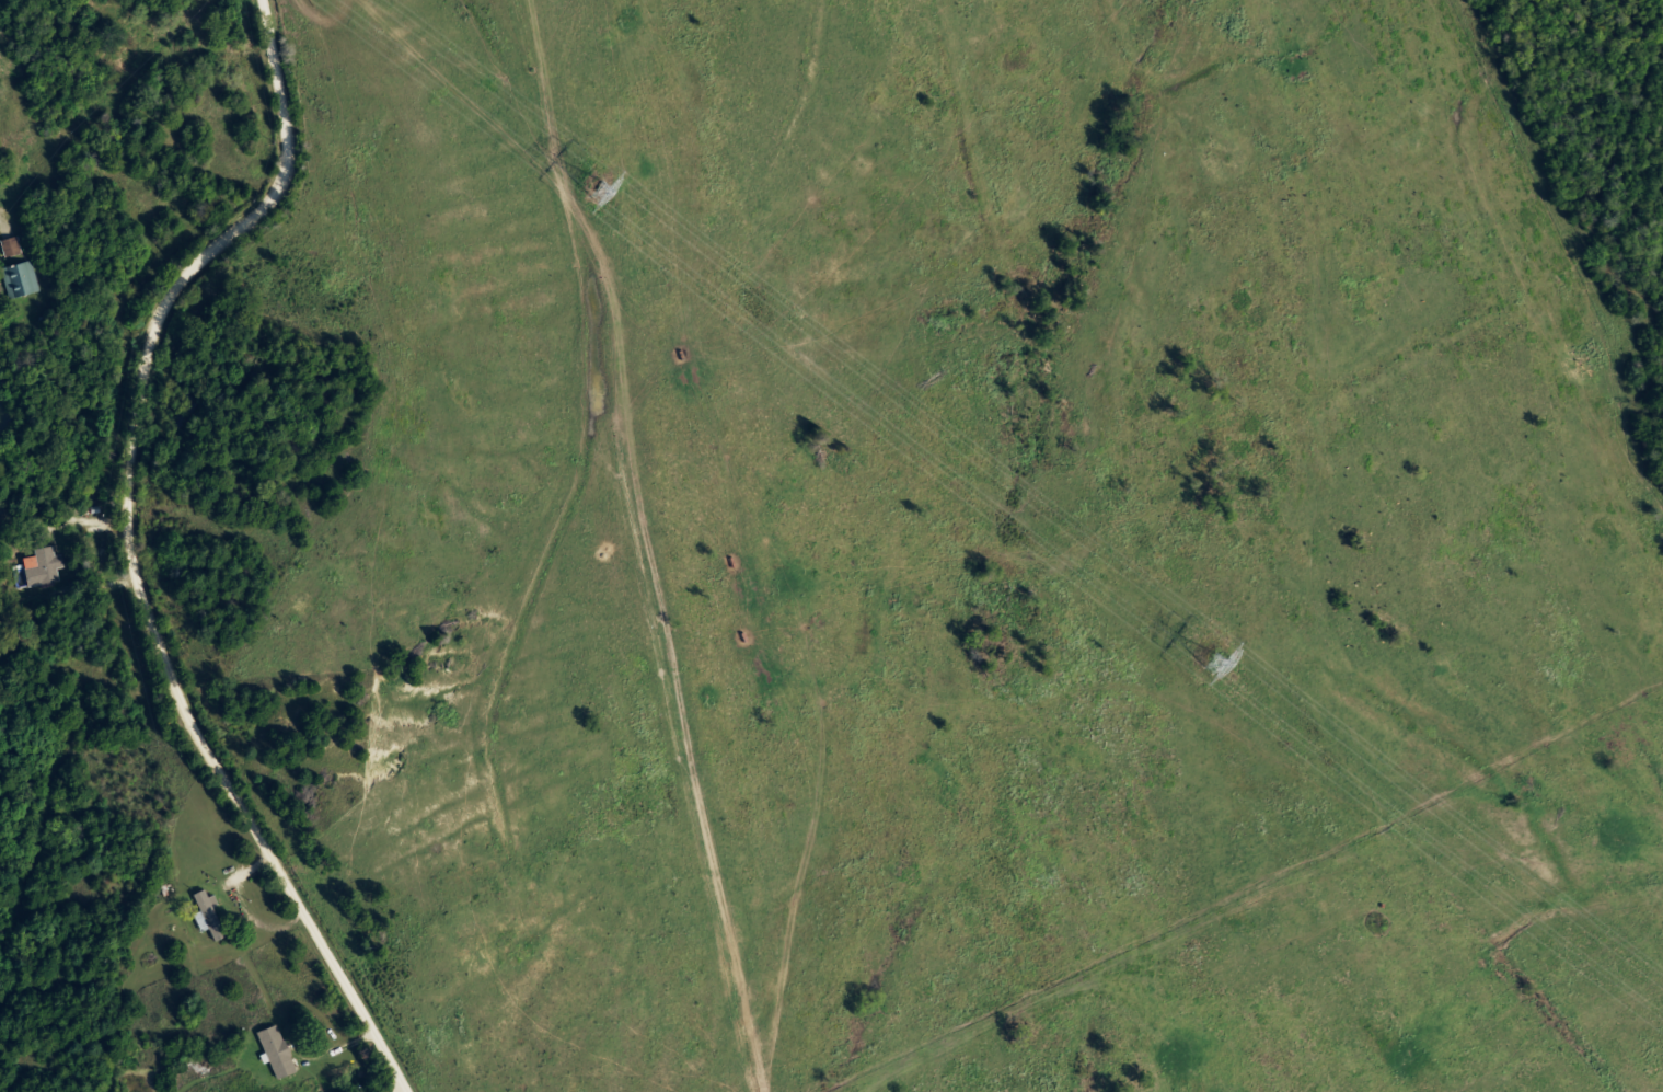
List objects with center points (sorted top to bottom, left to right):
power tower: (594, 192)
building: (13, 245)
building: (24, 278)
road: (131, 551)
building: (46, 564)
power tower: (1205, 660)
road: (230, 874)
building: (210, 912)
building: (269, 1048)
road: (338, 1054)
road: (400, 1089)

